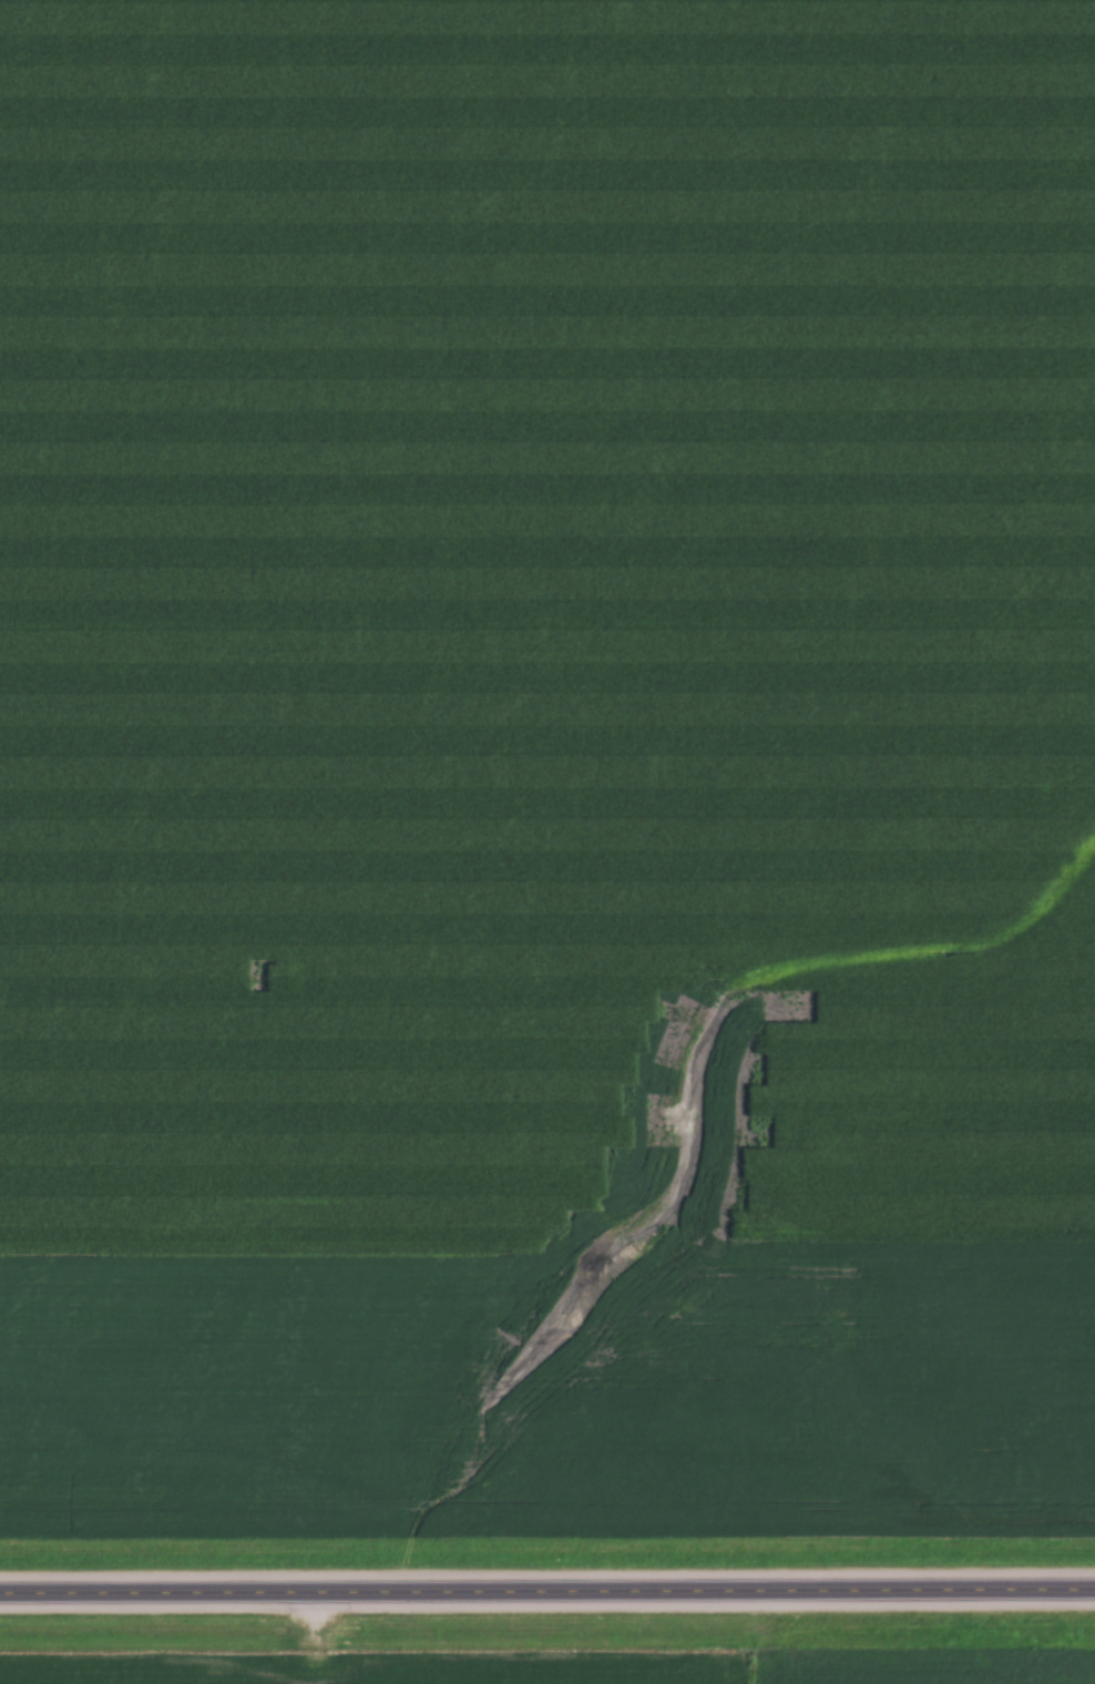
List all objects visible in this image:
road: (547, 1591)

